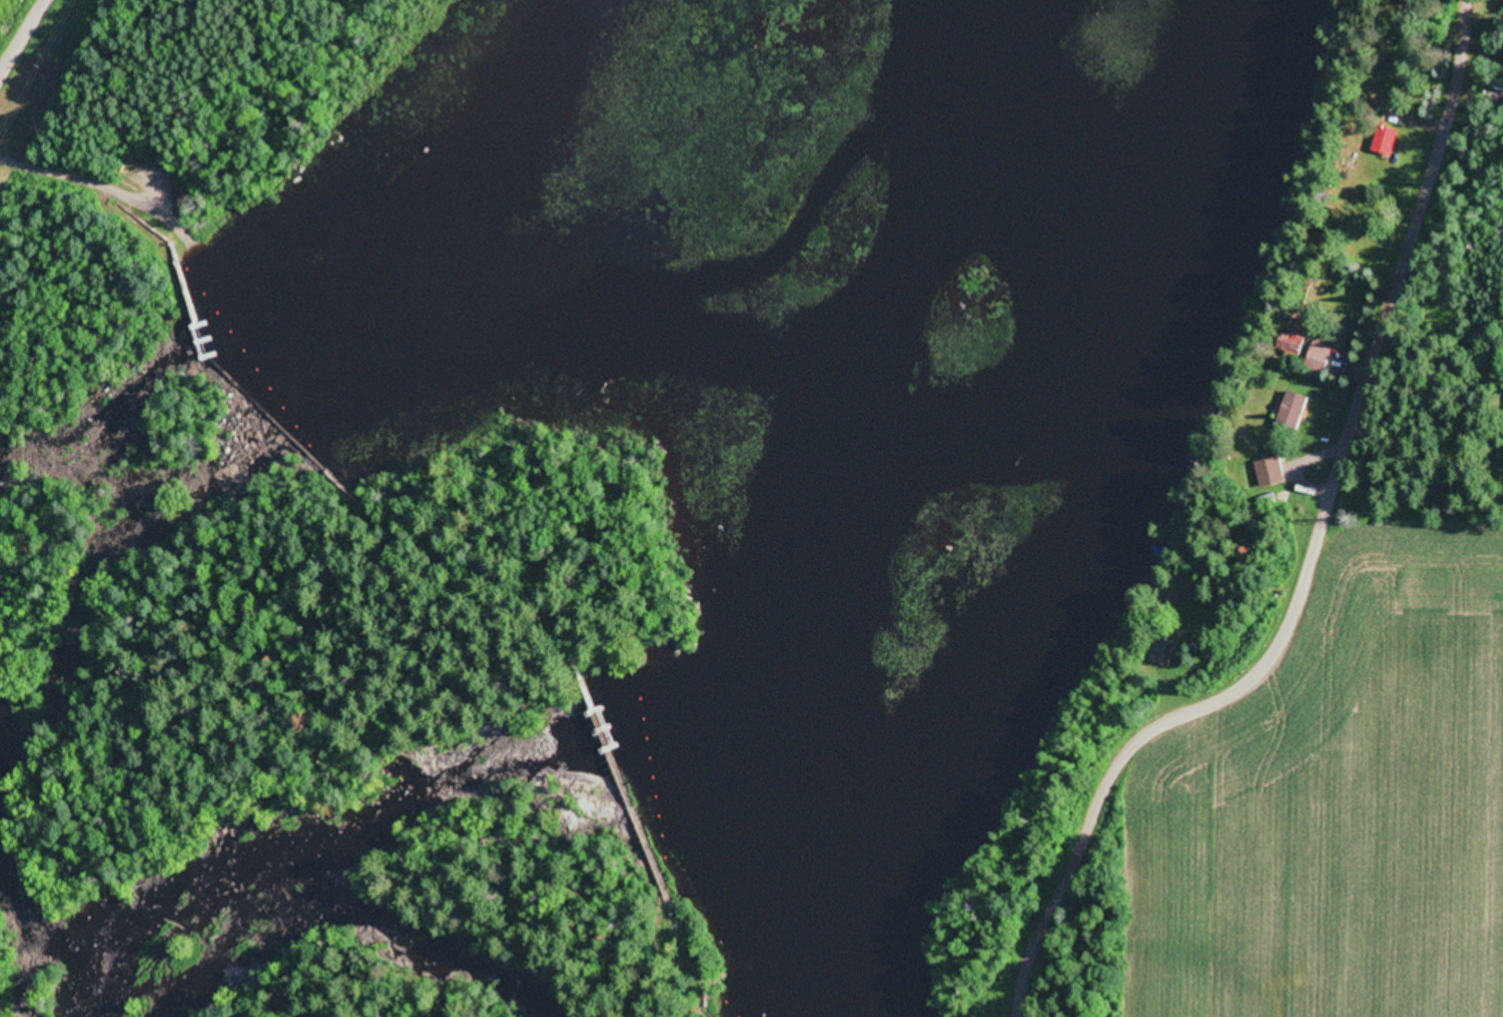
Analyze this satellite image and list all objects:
road: (19, 36)
road: (139, 127)
building: (1384, 138)
dam: (199, 334)
building: (1320, 353)
building: (1292, 408)
dam: (286, 428)
building: (1270, 468)
road: (1313, 554)
river: (742, 653)
dam: (604, 735)

